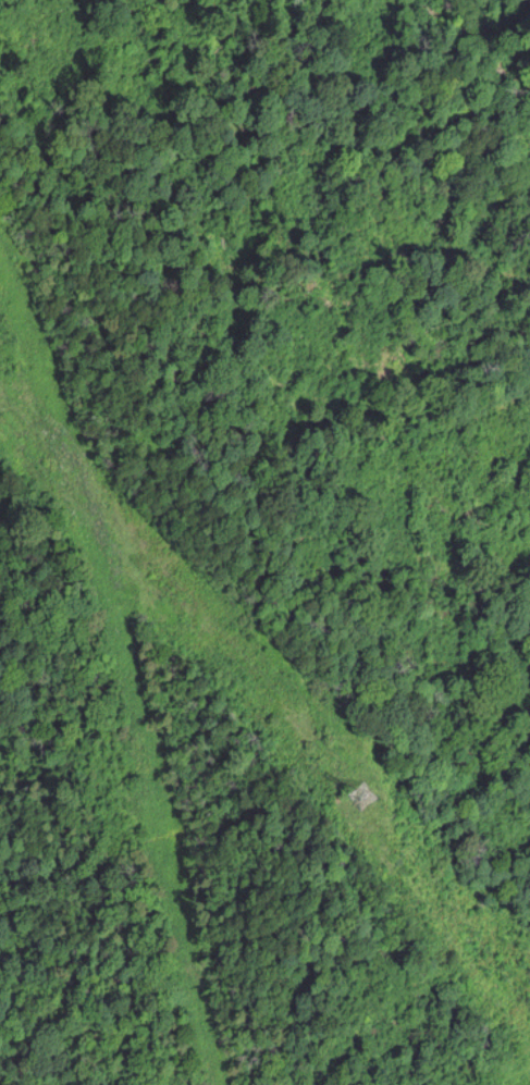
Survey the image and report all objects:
power tower: (365, 798)

